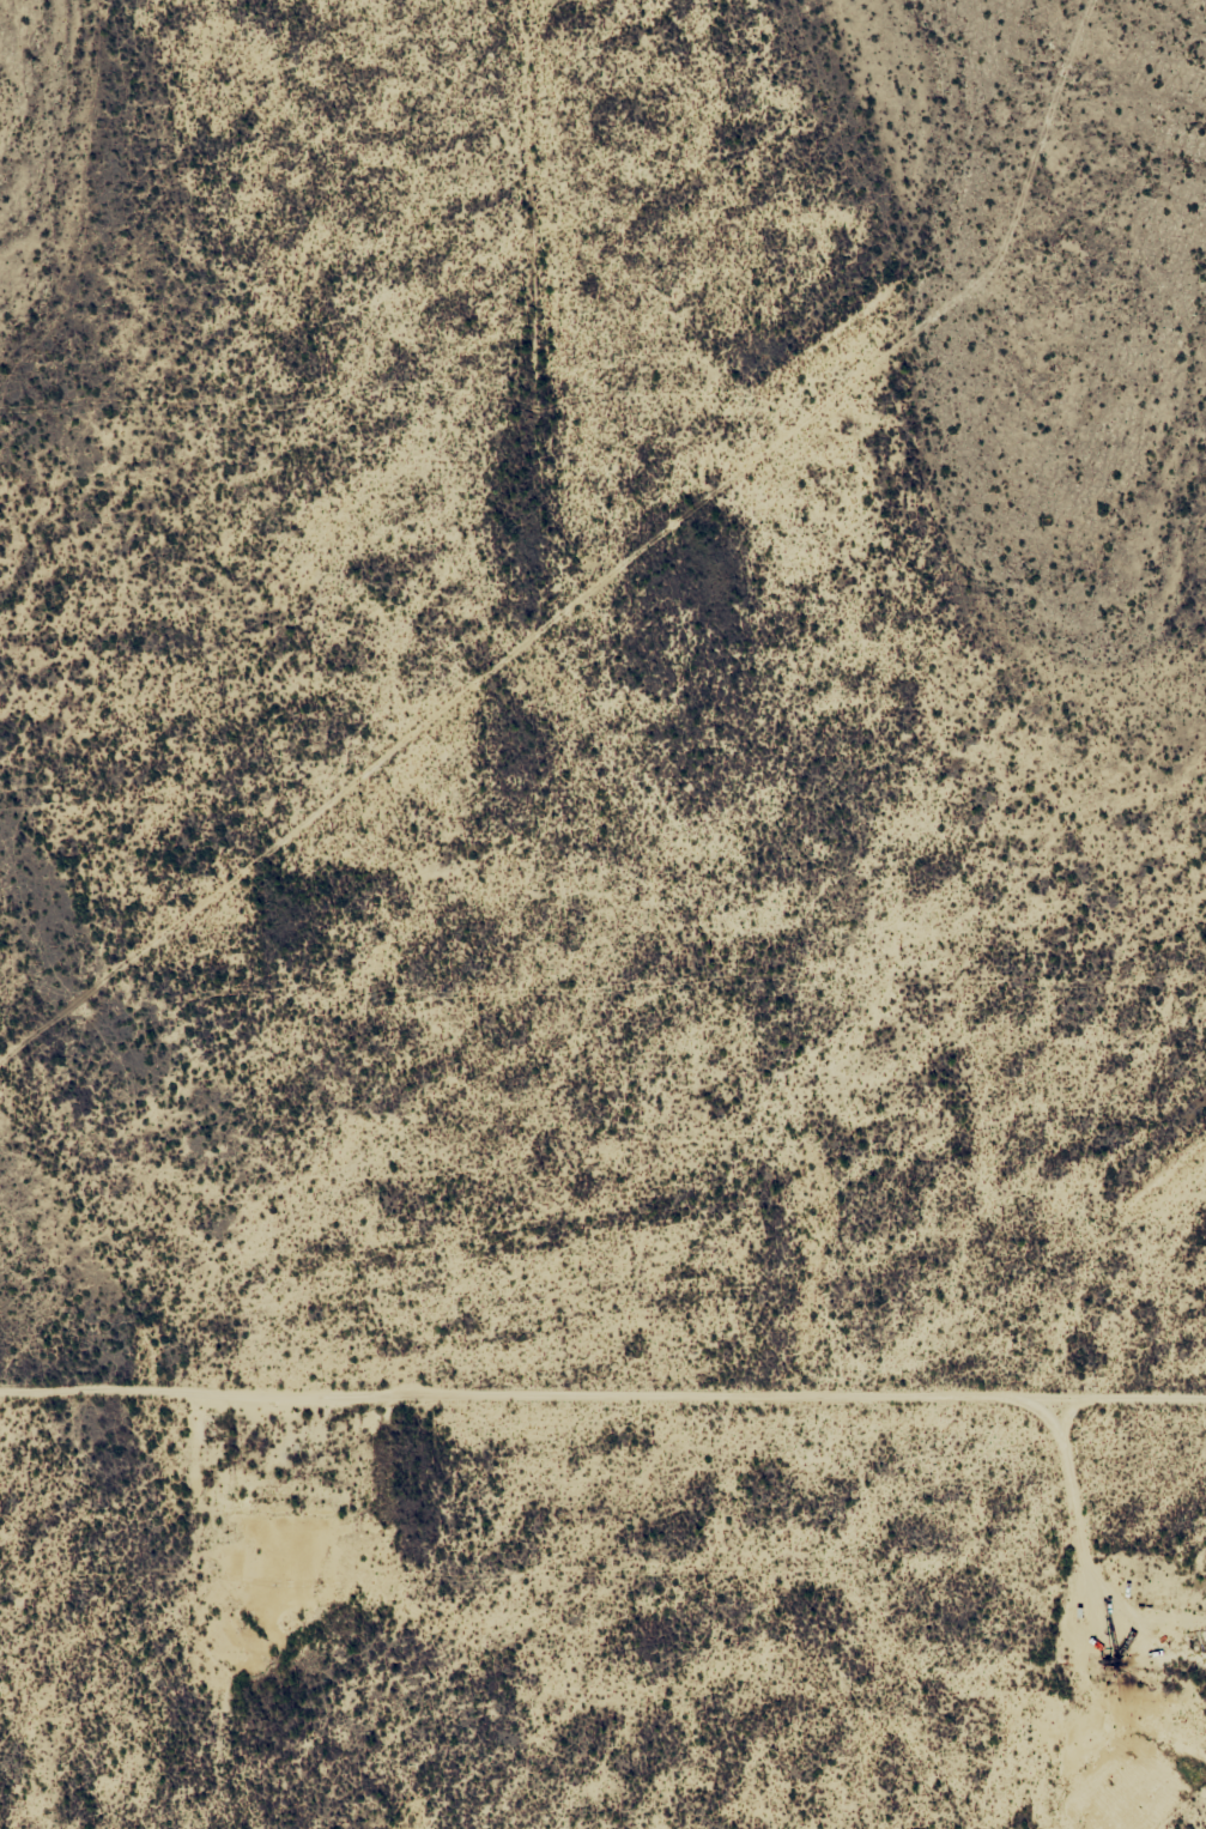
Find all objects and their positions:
road: (617, 583)

